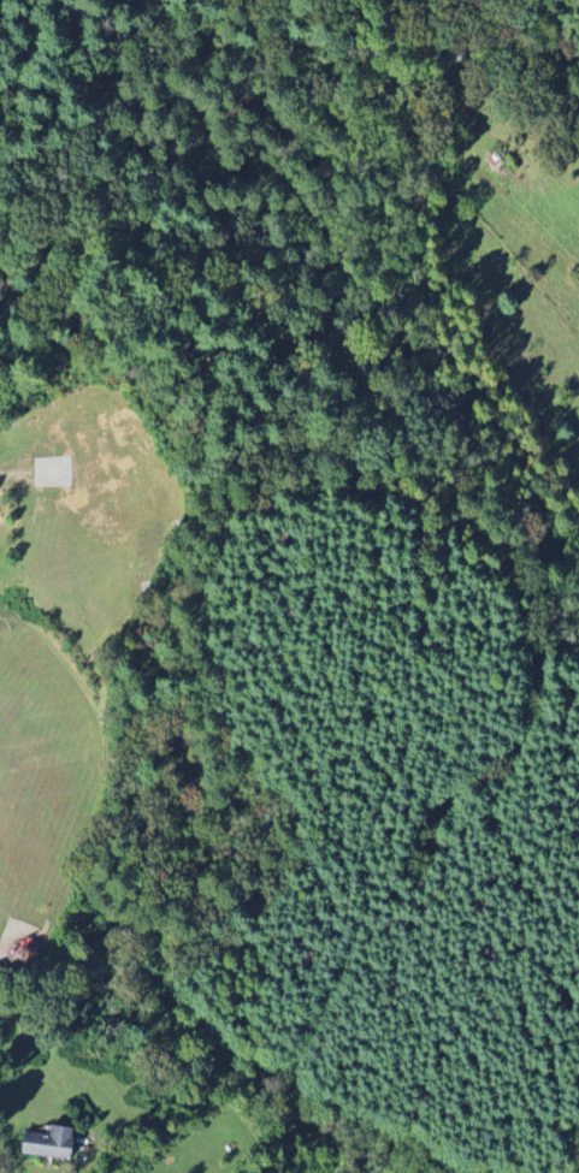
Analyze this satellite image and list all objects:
building: (53, 1144)

